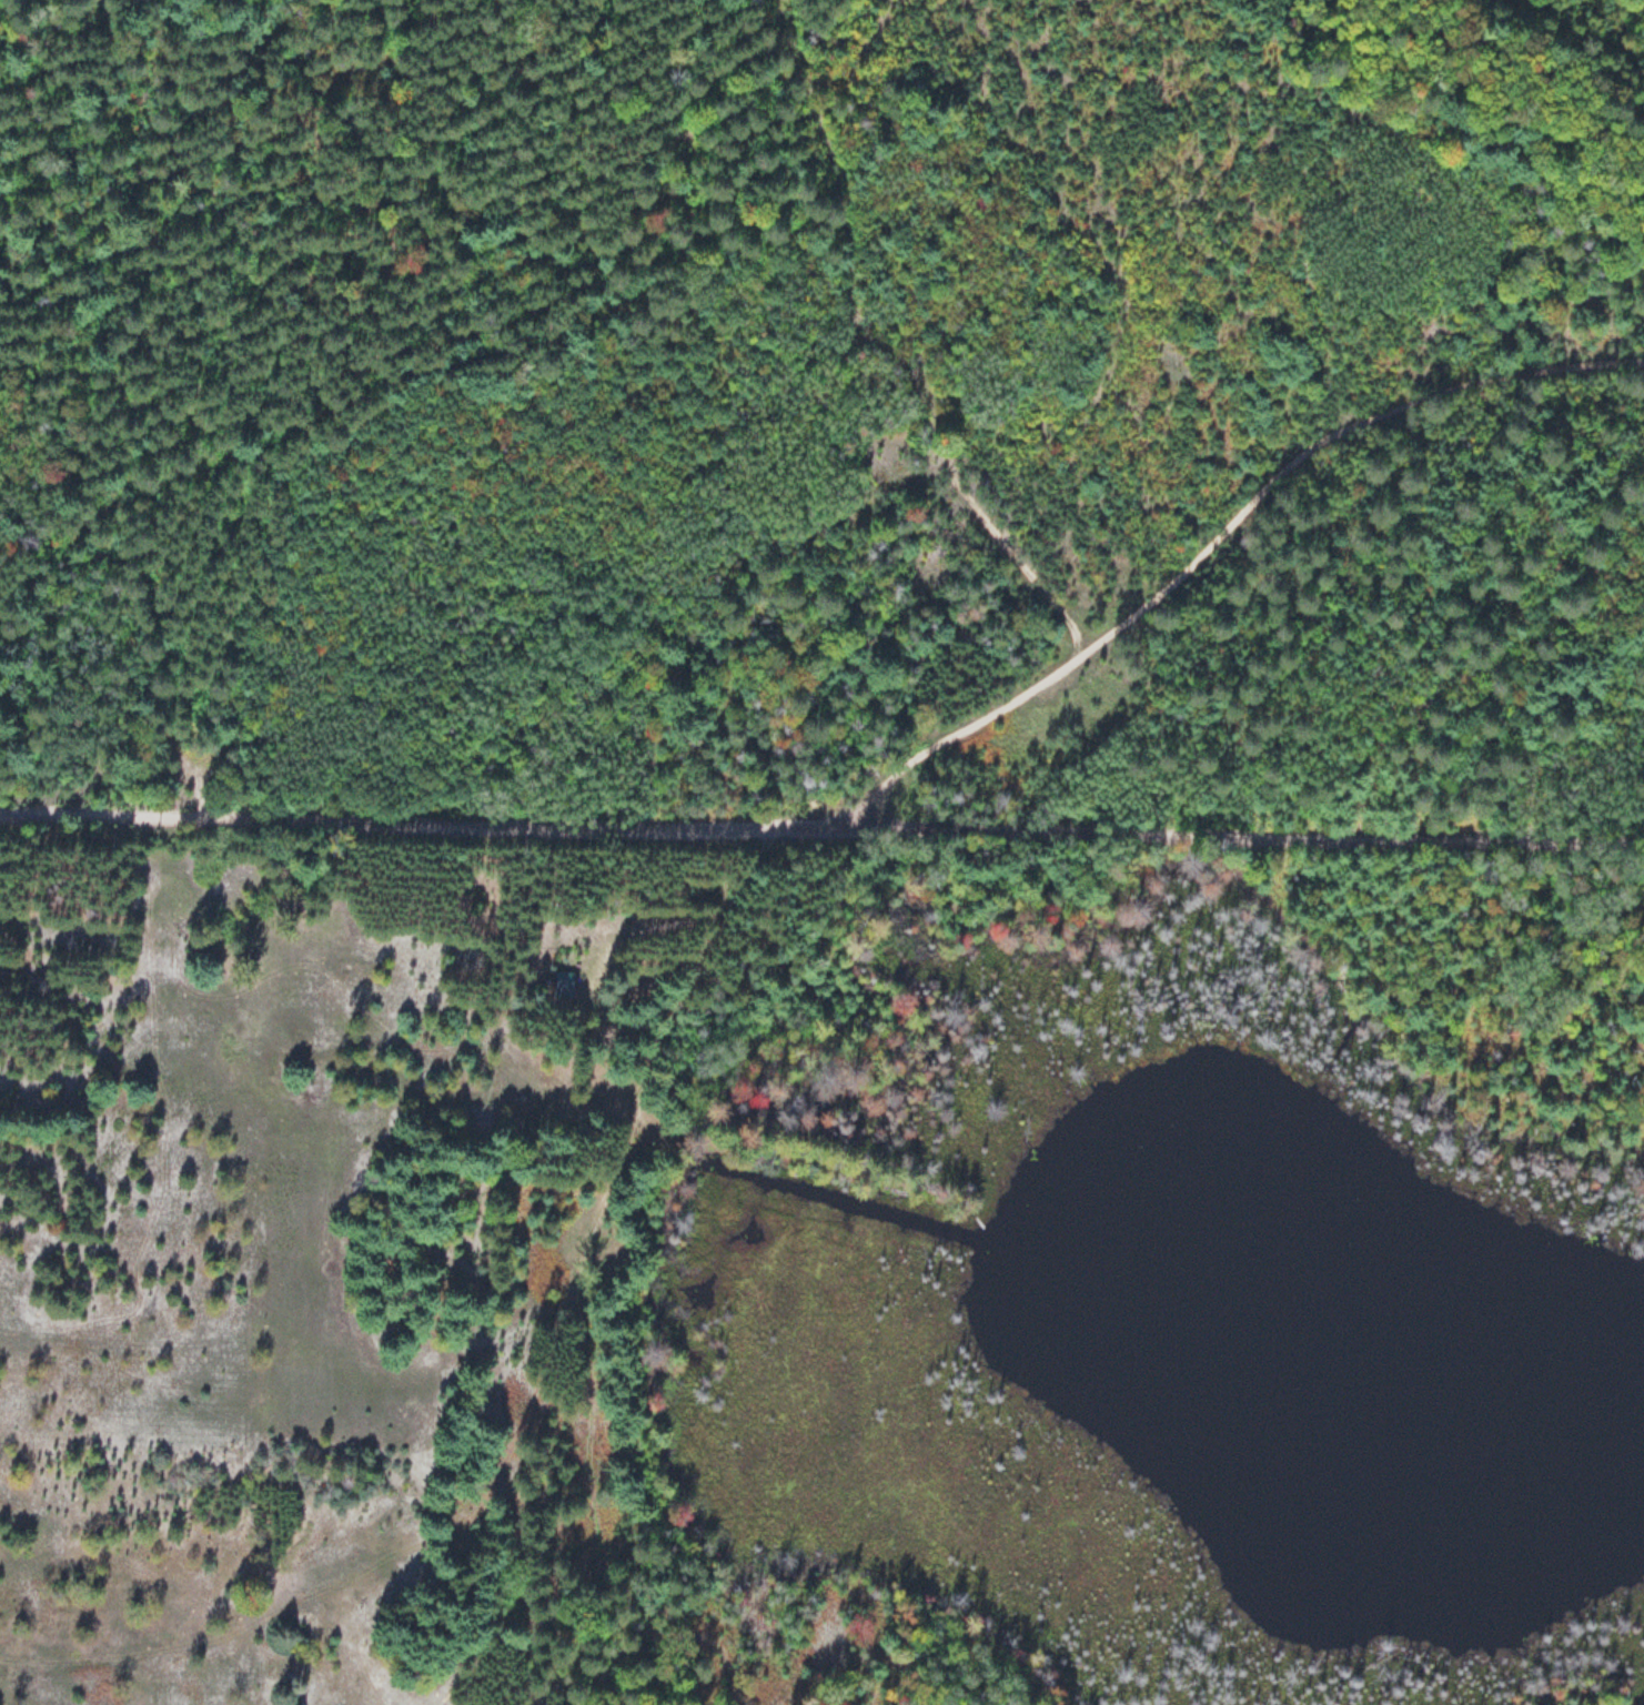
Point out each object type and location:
road: (1220, 542)
road: (821, 825)
building: (563, 986)
road: (804, 1060)

